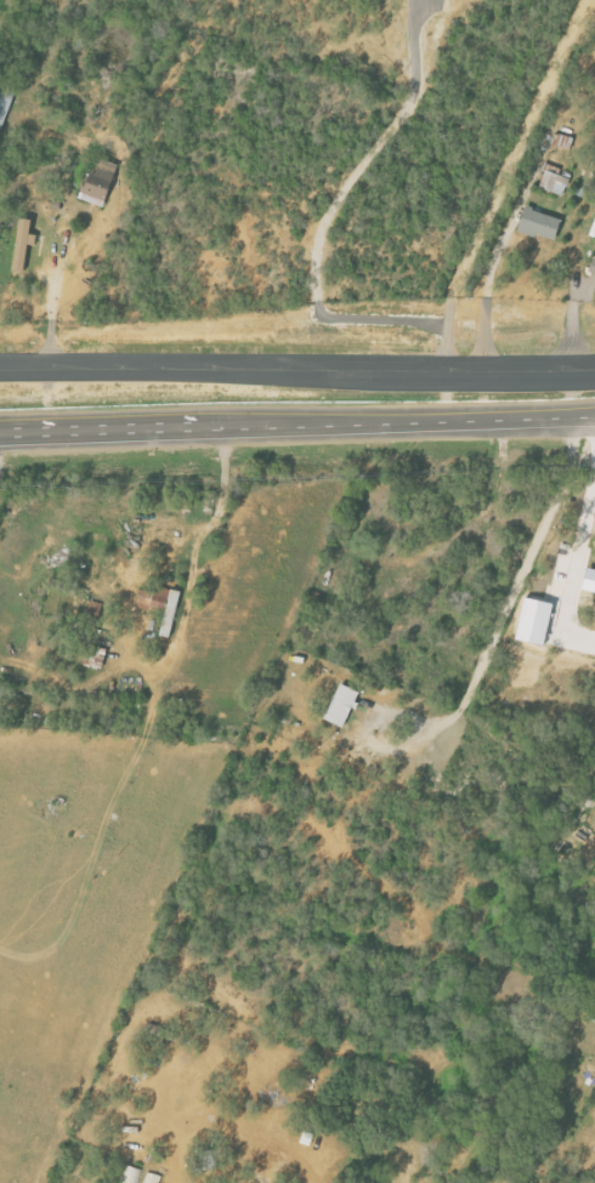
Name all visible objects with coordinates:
building: (554, 180)
building: (102, 182)
road: (506, 182)
road: (324, 215)
building: (542, 223)
building: (24, 244)
building: (593, 267)
road: (484, 284)
road: (51, 294)
road: (571, 330)
road: (297, 366)
road: (585, 416)
road: (492, 419)
road: (299, 423)
road: (93, 427)
road: (1, 437)
road: (586, 494)
road: (217, 512)
road: (520, 585)
building: (163, 605)
building: (535, 621)
building: (342, 705)
building: (131, 1175)
building: (152, 1178)

